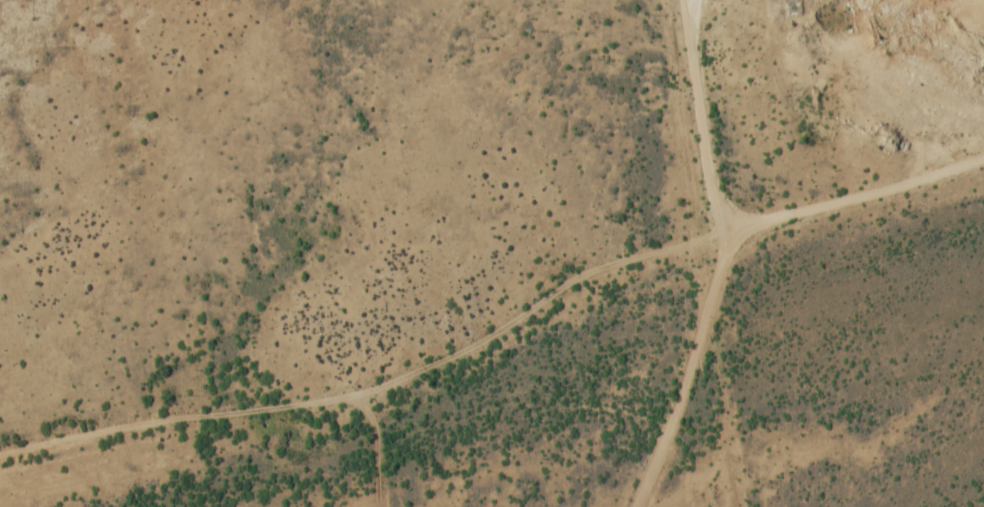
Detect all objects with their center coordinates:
road: (702, 113)
road: (501, 331)
road: (695, 361)
road: (377, 445)

